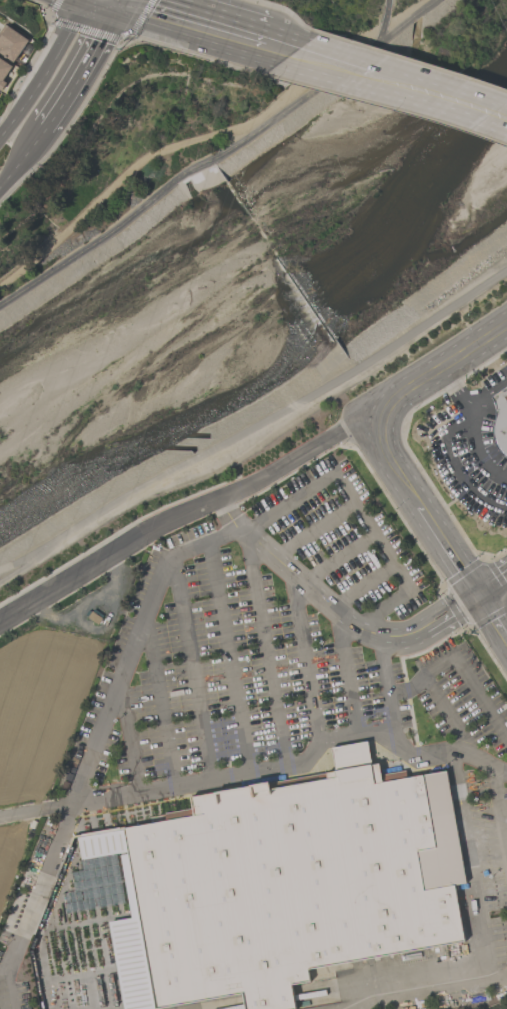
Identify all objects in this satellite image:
road: (121, 0)
road: (123, 0)
traffic signals: (123, 1)
road: (147, 4)
road: (409, 19)
road: (193, 22)
building: (11, 41)
road: (281, 47)
road: (86, 63)
road: (335, 63)
building: (3, 71)
road: (46, 72)
river: (502, 75)
road: (440, 95)
river: (482, 106)
road: (46, 130)
road: (206, 137)
park: (131, 150)
road: (22, 162)
road: (210, 164)
river: (251, 312)
road: (440, 363)
road: (487, 393)
building: (501, 421)
road: (472, 425)
road: (253, 427)
road: (454, 470)
road: (421, 507)
road: (187, 513)
road: (313, 532)
road: (182, 552)
road: (337, 558)
road: (491, 579)
road: (362, 587)
road: (493, 591)
road: (335, 613)
road: (493, 616)
building: (95, 618)
road: (264, 651)
road: (230, 658)
road: (306, 663)
road: (459, 664)
road: (192, 669)
road: (388, 692)
crop: (48, 701)
road: (157, 704)
road: (449, 715)
road: (131, 736)
road: (298, 767)
road: (499, 808)
road: (35, 811)
building: (295, 881)
road: (475, 981)
road: (400, 994)

